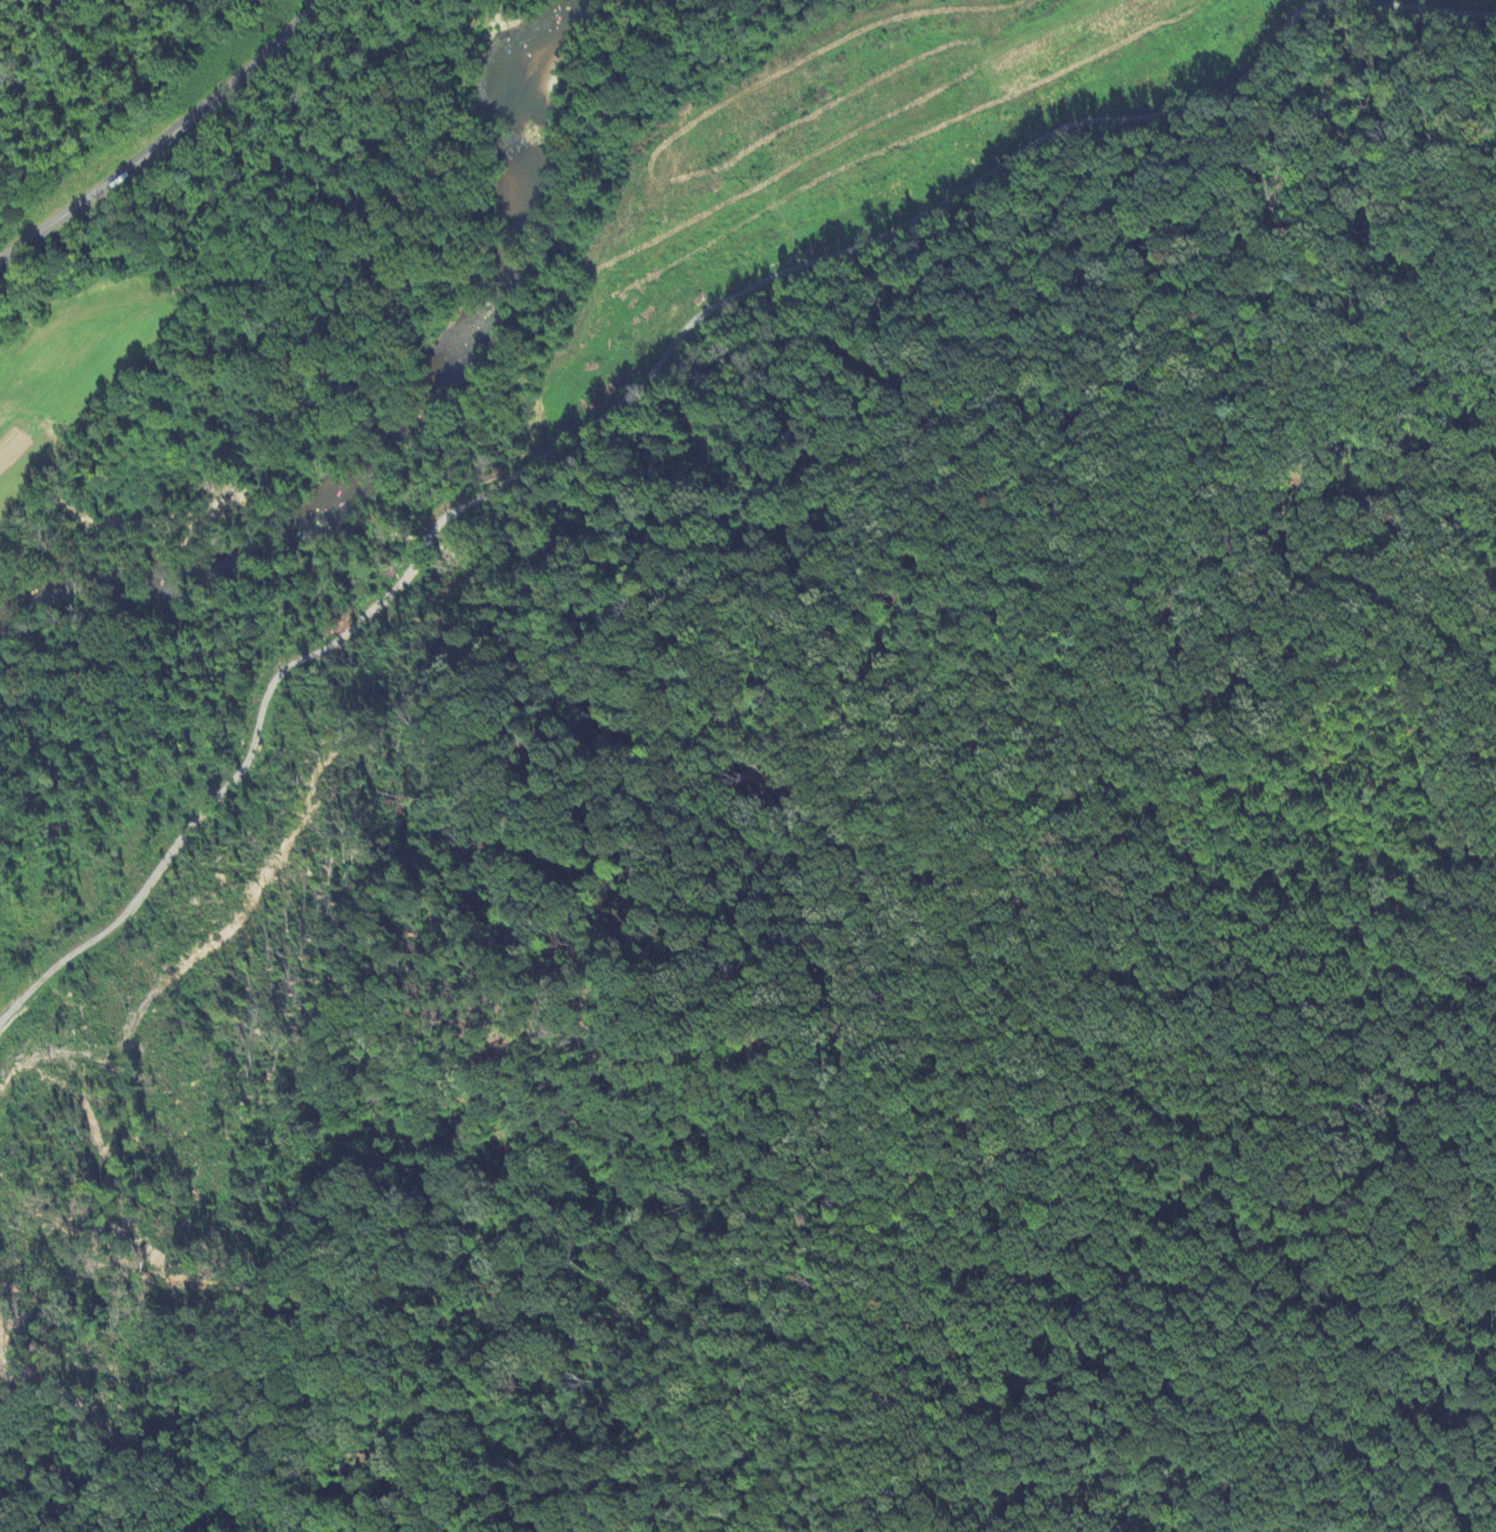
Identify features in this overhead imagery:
road: (1430, 5)
road: (165, 141)
river: (398, 382)
road: (590, 420)

